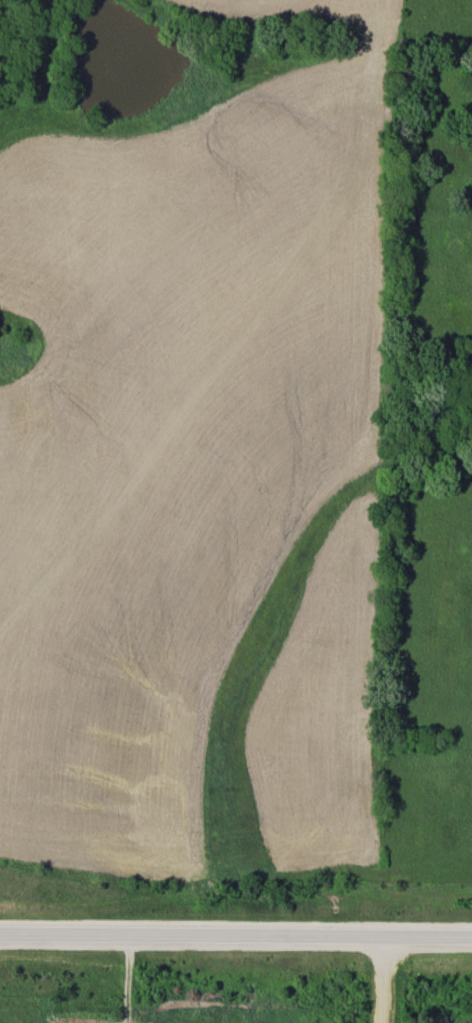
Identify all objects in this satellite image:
road: (236, 933)
road: (379, 978)

